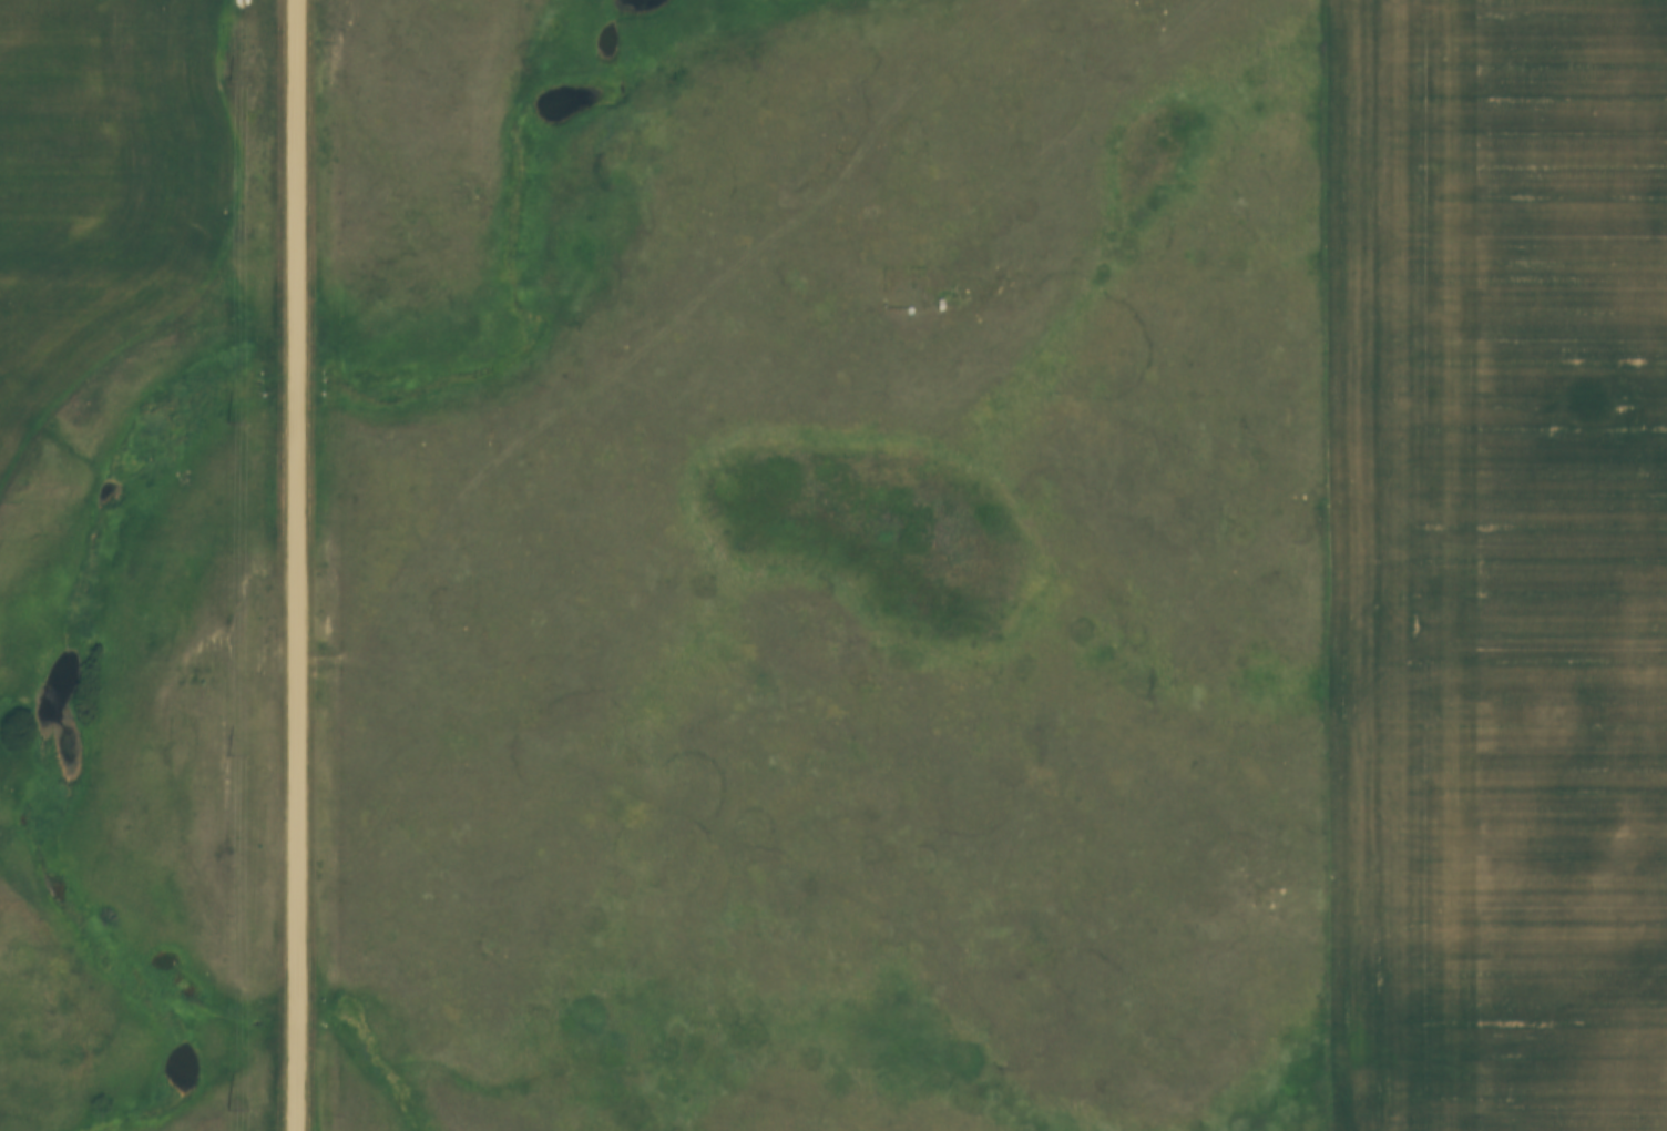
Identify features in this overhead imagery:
road: (300, 565)

